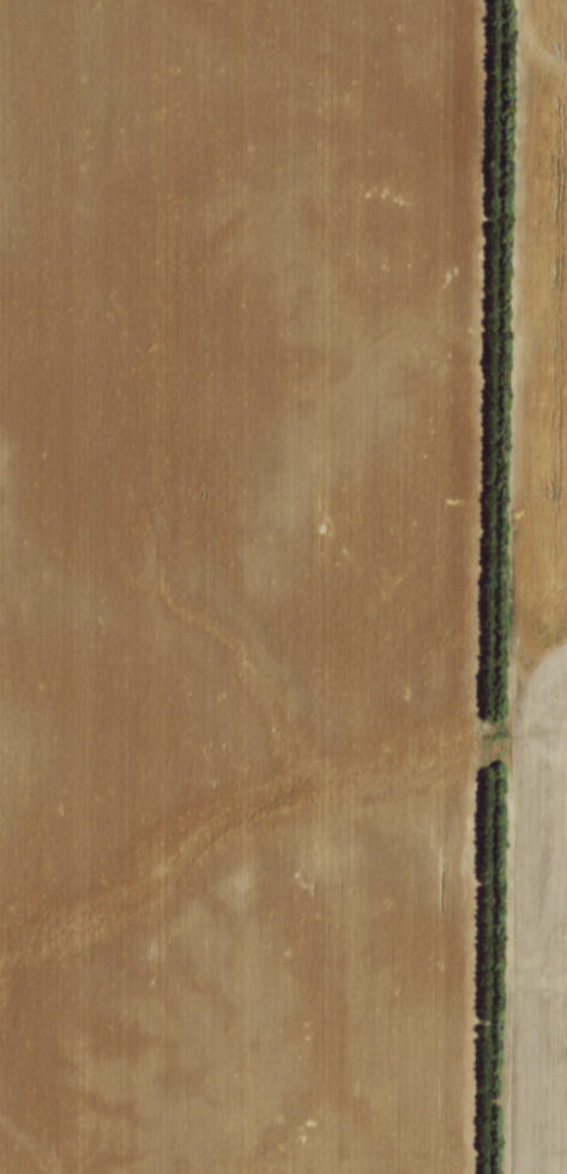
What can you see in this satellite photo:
crop: (533, 247)
crop: (234, 585)
crop: (535, 910)

